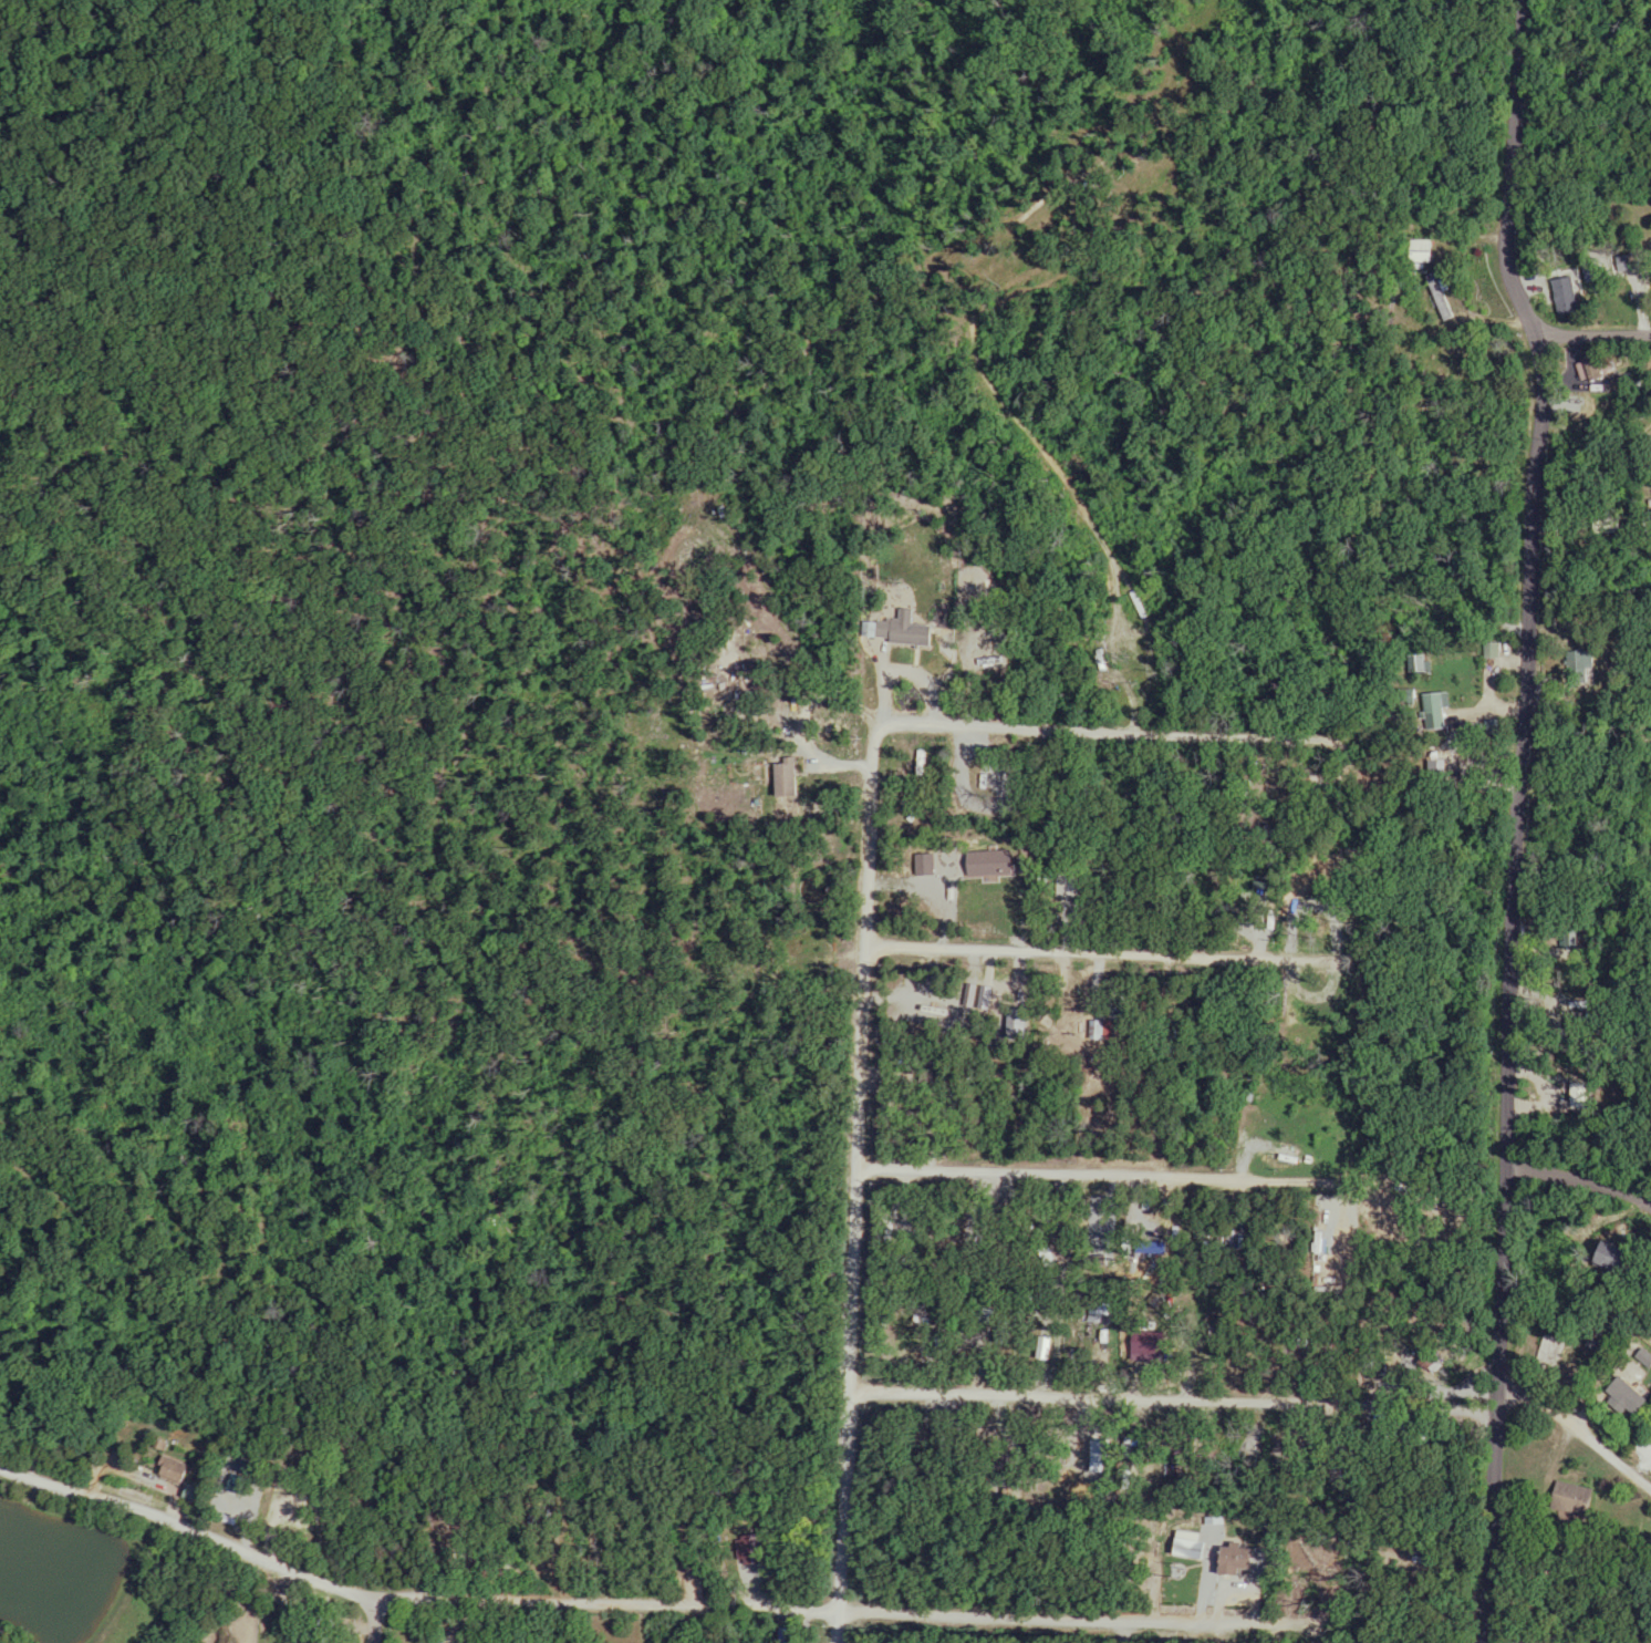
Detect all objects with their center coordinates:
building: (1418, 250)
building: (1437, 297)
road: (1595, 343)
building: (1592, 364)
building: (1650, 455)
building: (899, 631)
building: (1486, 649)
building: (1574, 658)
road: (904, 676)
building: (1398, 695)
building: (1429, 710)
road: (797, 723)
road: (1138, 727)
building: (778, 778)
road: (1517, 813)
building: (1649, 843)
road: (1112, 950)
road: (1089, 1164)
road: (1580, 1185)
road: (853, 1189)
building: (1124, 1244)
building: (1592, 1251)
building: (1097, 1310)
building: (1087, 1315)
building: (1041, 1345)
building: (1540, 1350)
road: (1100, 1394)
building: (1611, 1396)
road: (1576, 1436)
building: (176, 1469)
building: (198, 1494)
building: (1560, 1498)
building: (1183, 1548)
building: (1219, 1561)
road: (643, 1601)
road: (399, 1615)
building: (442, 1641)

